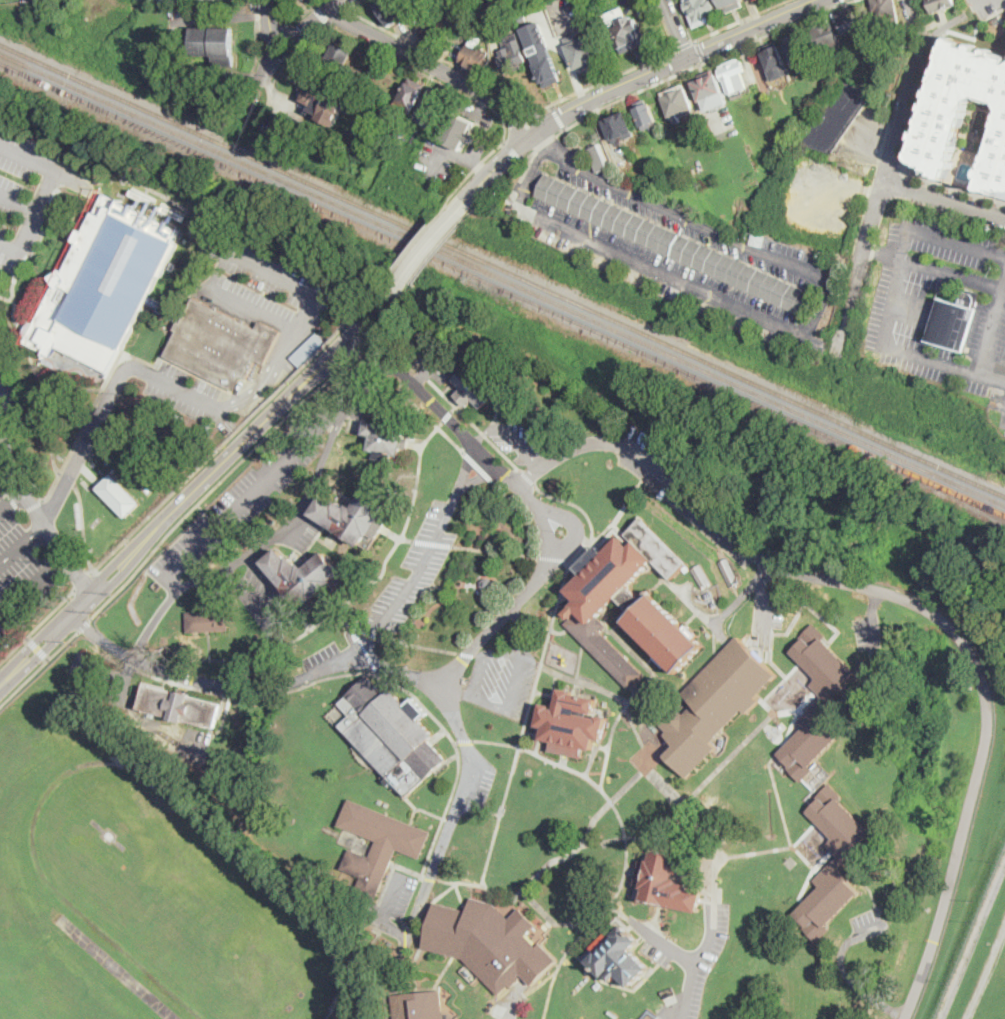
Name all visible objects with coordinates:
park: (4, 0)
building: (306, 0)
building: (450, 0)
building: (754, 0)
road: (980, 1)
road: (353, 4)
building: (731, 5)
building: (935, 7)
building: (395, 9)
road: (305, 11)
building: (702, 11)
road: (321, 13)
building: (886, 13)
road: (281, 14)
road: (338, 16)
building: (852, 20)
road: (309, 22)
road: (665, 24)
road: (676, 27)
road: (719, 29)
building: (626, 32)
road: (257, 35)
building: (428, 36)
building: (827, 37)
road: (171, 40)
building: (214, 44)
road: (683, 45)
building: (890, 46)
road: (279, 48)
road: (298, 50)
road: (700, 50)
building: (798, 52)
building: (541, 53)
building: (511, 54)
building: (476, 55)
building: (584, 55)
building: (337, 57)
road: (443, 59)
building: (775, 62)
road: (434, 65)
building: (733, 74)
road: (606, 78)
road: (626, 83)
road: (644, 87)
building: (709, 91)
road: (467, 94)
building: (410, 95)
building: (326, 101)
building: (678, 102)
road: (553, 106)
building: (428, 108)
building: (965, 111)
building: (645, 115)
building: (842, 115)
road: (559, 119)
road: (523, 123)
building: (620, 128)
building: (458, 132)
building: (384, 139)
road: (542, 139)
road: (444, 150)
road: (512, 151)
building: (598, 158)
road: (43, 165)
road: (481, 167)
road: (885, 174)
parking lot: (27, 193)
road: (944, 199)
road: (19, 201)
road: (460, 205)
road: (33, 220)
road: (43, 232)
road: (418, 240)
road: (428, 244)
building: (675, 245)
road: (440, 249)
road: (883, 256)
railway: (502, 268)
road: (277, 275)
road: (954, 277)
railway: (502, 278)
road: (398, 283)
building: (105, 284)
parking lot: (268, 287)
park: (142, 288)
railway: (502, 288)
road: (374, 292)
road: (13, 293)
road: (6, 298)
road: (400, 300)
road: (895, 300)
building: (954, 321)
road: (381, 328)
road: (993, 334)
road: (798, 335)
road: (396, 341)
building: (220, 344)
building: (307, 350)
road: (7, 366)
road: (111, 372)
building: (475, 384)
road: (186, 390)
parking lot: (184, 392)
road: (5, 394)
road: (45, 394)
road: (263, 421)
road: (466, 432)
road: (92, 433)
road: (510, 435)
building: (387, 440)
parking lot: (516, 440)
road: (225, 443)
road: (467, 463)
road: (275, 472)
road: (226, 473)
road: (91, 474)
road: (480, 476)
road: (67, 477)
road: (3, 487)
road: (28, 495)
building: (119, 496)
parking lot: (244, 497)
road: (11, 499)
road: (13, 501)
railway: (972, 502)
road: (33, 503)
road: (21, 508)
building: (356, 516)
road: (83, 527)
road: (290, 528)
road: (23, 544)
road: (477, 548)
parking lot: (21, 572)
building: (728, 572)
road: (112, 573)
theme park: (25, 574)
building: (702, 576)
building: (304, 577)
parking lot: (408, 577)
road: (83, 581)
road: (413, 582)
building: (487, 584)
road: (32, 585)
road: (364, 585)
building: (433, 590)
road: (763, 590)
road: (562, 592)
parking lot: (259, 593)
building: (629, 603)
road: (915, 603)
road: (83, 605)
parking lot: (768, 608)
road: (273, 614)
road: (873, 618)
building: (208, 621)
road: (155, 622)
road: (84, 624)
road: (37, 626)
parking lot: (868, 632)
road: (37, 647)
road: (35, 650)
road: (368, 665)
road: (38, 667)
parking lot: (501, 683)
building: (817, 702)
building: (715, 704)
building: (180, 707)
building: (572, 724)
building: (391, 734)
road: (456, 807)
road: (626, 839)
building: (378, 845)
building: (833, 863)
building: (666, 883)
parking lot: (397, 894)
road: (386, 911)
building: (489, 943)
road: (666, 943)
parking lot: (662, 948)
building: (618, 956)
road: (697, 960)
parking lot: (700, 964)
road: (536, 987)
building: (418, 1005)
road: (514, 1009)

